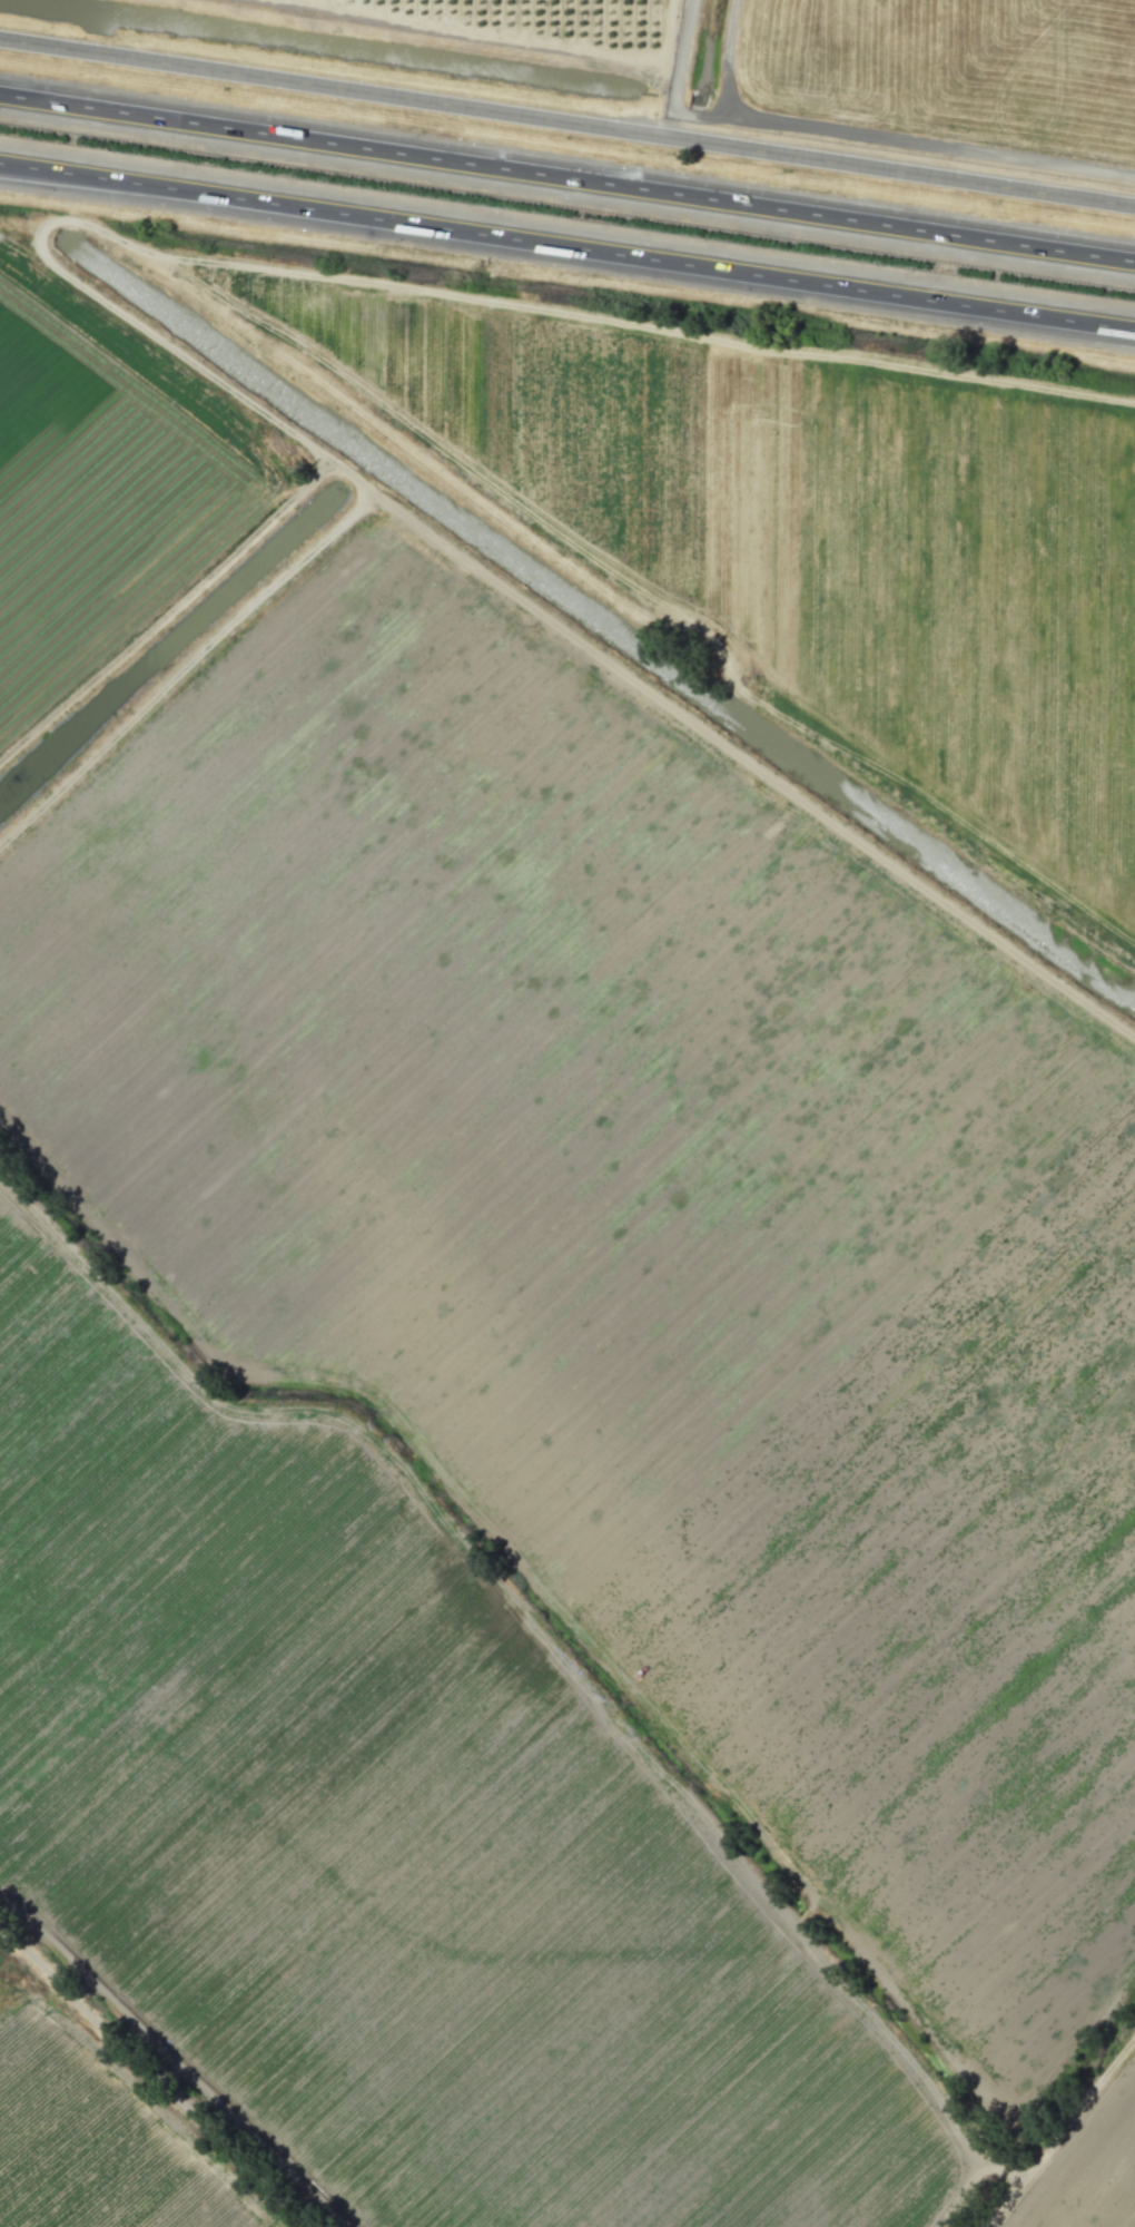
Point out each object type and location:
airport: (920, 77)
road: (566, 122)
road: (567, 176)
road: (566, 247)
crop: (805, 541)
crop: (392, 1829)
crop: (1094, 2171)

